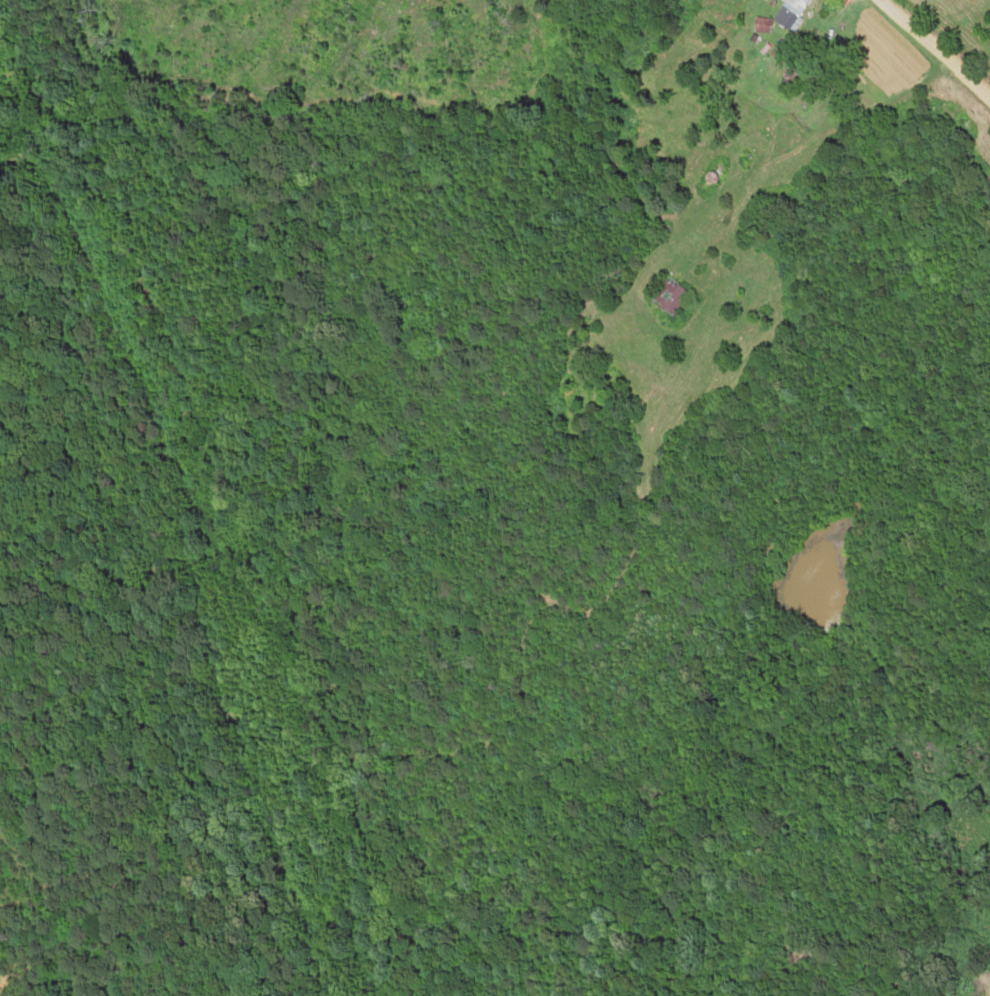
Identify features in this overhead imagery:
building: (787, 13)
road: (936, 50)
building: (666, 296)

